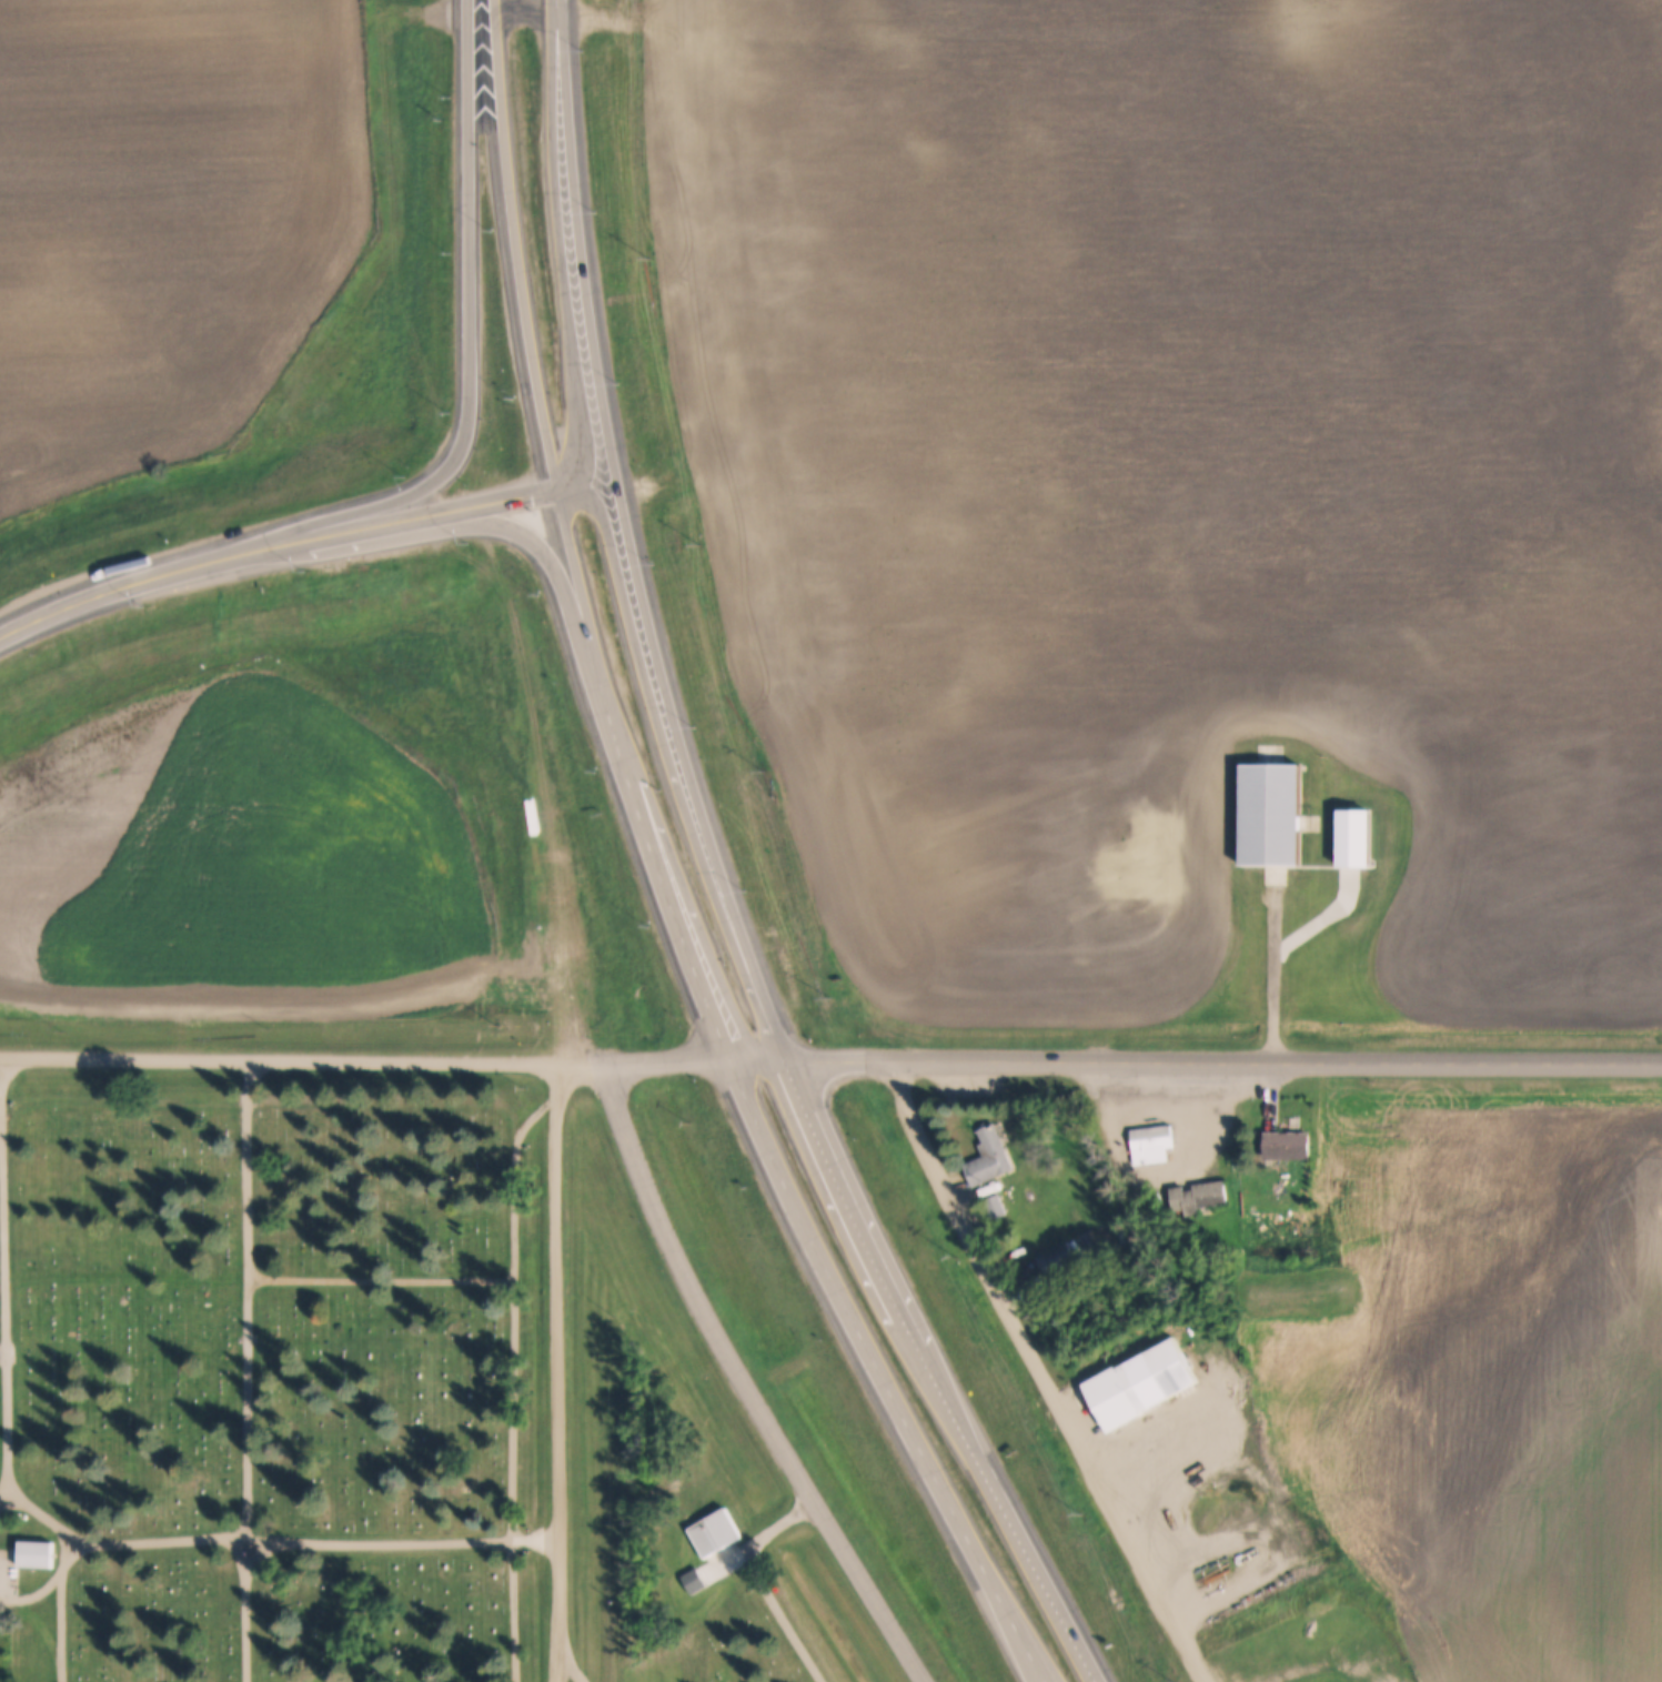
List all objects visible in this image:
road: (533, 1)
street lamp: (583, 49)
street lamp: (597, 209)
road: (583, 243)
road: (525, 250)
street lamp: (624, 381)
road: (447, 472)
road: (592, 492)
street lamp: (470, 543)
road: (278, 546)
street lamp: (652, 561)
street lamp: (309, 570)
street lamp: (533, 596)
street lamp: (143, 604)
street lamp: (698, 731)
street lamp: (591, 769)
road: (687, 776)
road: (632, 784)
building: (1271, 814)
building: (1354, 837)
street lamp: (752, 890)
road: (694, 905)
road: (1296, 908)
street lamp: (647, 925)
road: (673, 1059)
road: (747, 1059)
road: (772, 1059)
road: (305, 1060)
road: (1222, 1061)
road: (1, 1090)
road: (355, 1099)
building: (1150, 1144)
building: (1286, 1146)
building: (988, 1158)
building: (1268, 1175)
building: (1197, 1197)
building: (994, 1207)
building: (1059, 1260)
road: (383, 1282)
road: (250, 1370)
road: (561, 1371)
road: (885, 1372)
road: (934, 1373)
road: (1041, 1373)
road: (746, 1381)
building: (1141, 1382)
park: (361, 1403)
road: (49, 1515)
building: (714, 1532)
road: (759, 1538)
road: (314, 1540)
building: (34, 1553)
road: (34, 1595)
road: (784, 1616)
road: (64, 1625)
road: (46, 1630)
road: (704, 1630)
road: (1318, 1665)
road: (570, 1668)

